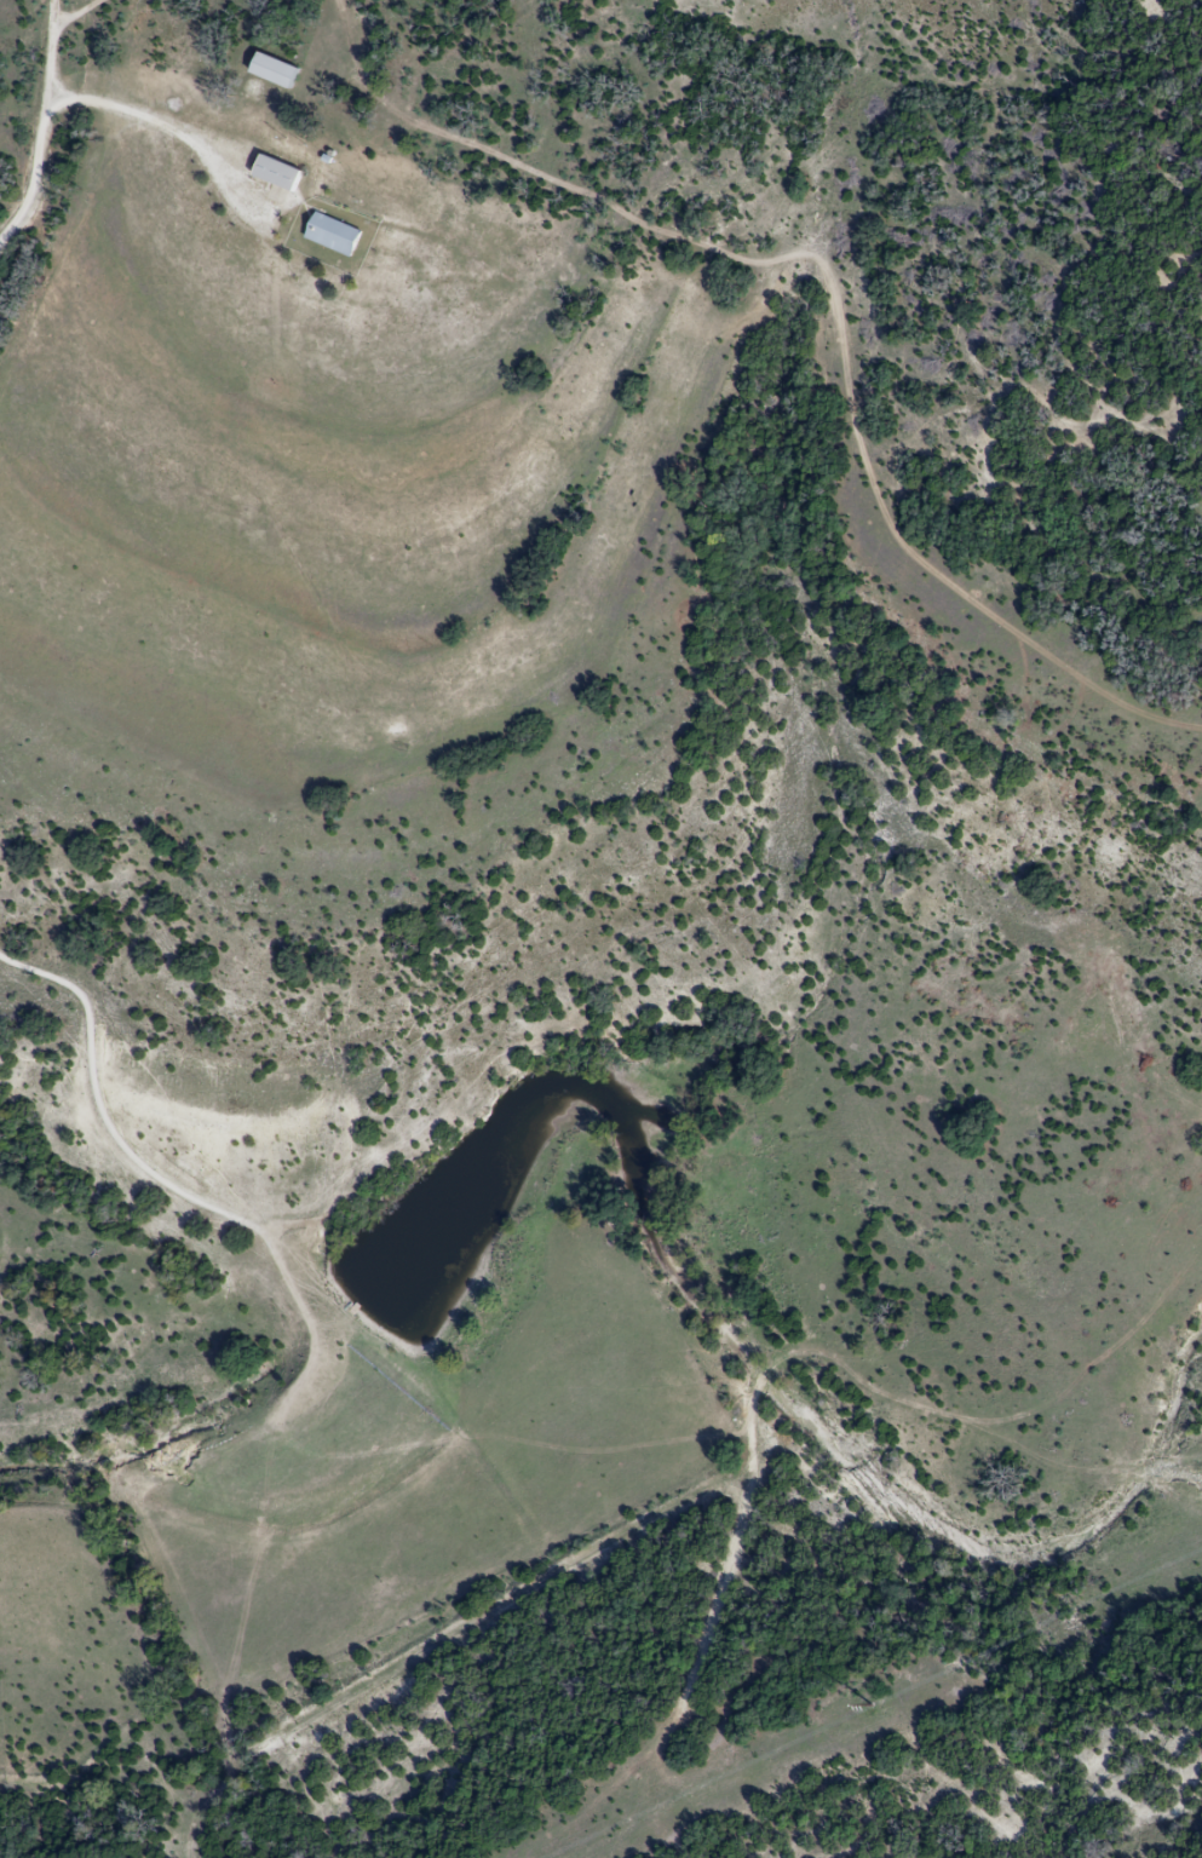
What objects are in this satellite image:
building: (272, 70)
road: (39, 128)
building: (275, 173)
building: (330, 234)
power tower: (874, 1707)

